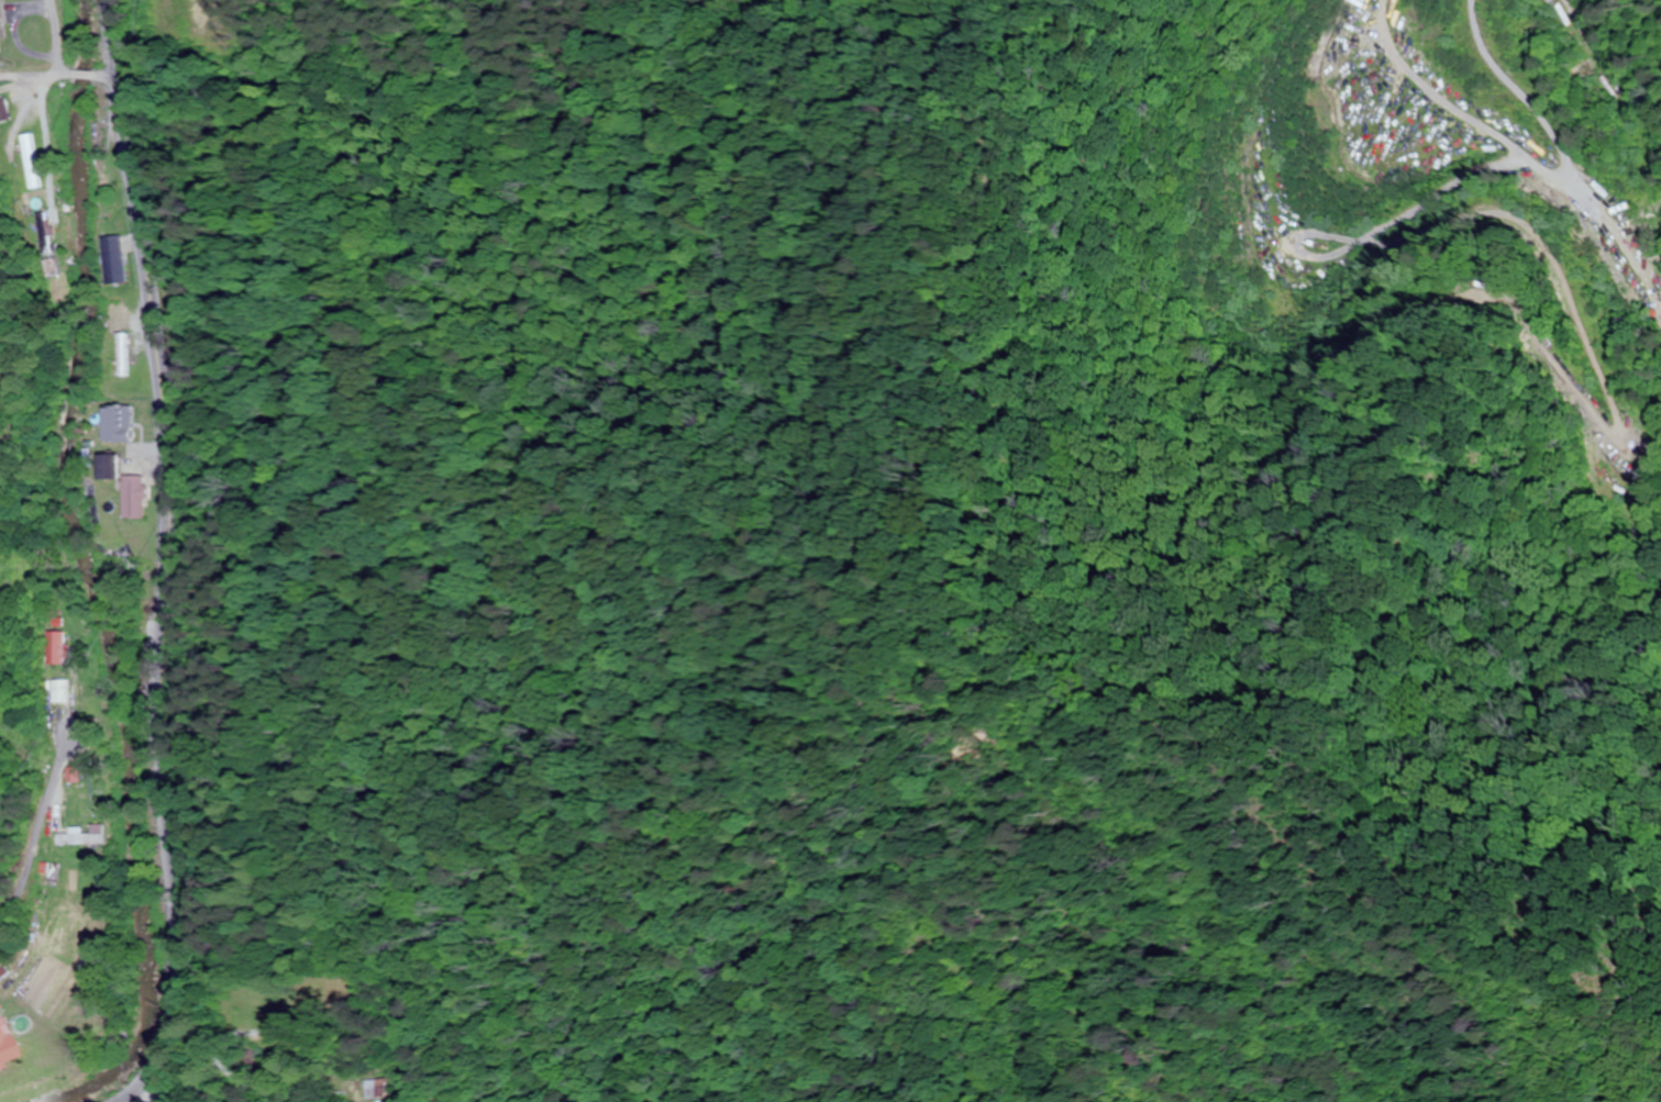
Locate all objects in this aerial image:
road: (60, 34)
road: (57, 68)
building: (1, 113)
building: (24, 160)
building: (43, 231)
building: (112, 259)
building: (122, 355)
building: (111, 427)
building: (106, 468)
building: (133, 497)
road: (167, 558)
building: (49, 646)
building: (80, 836)
building: (5, 1049)
building: (388, 1088)

